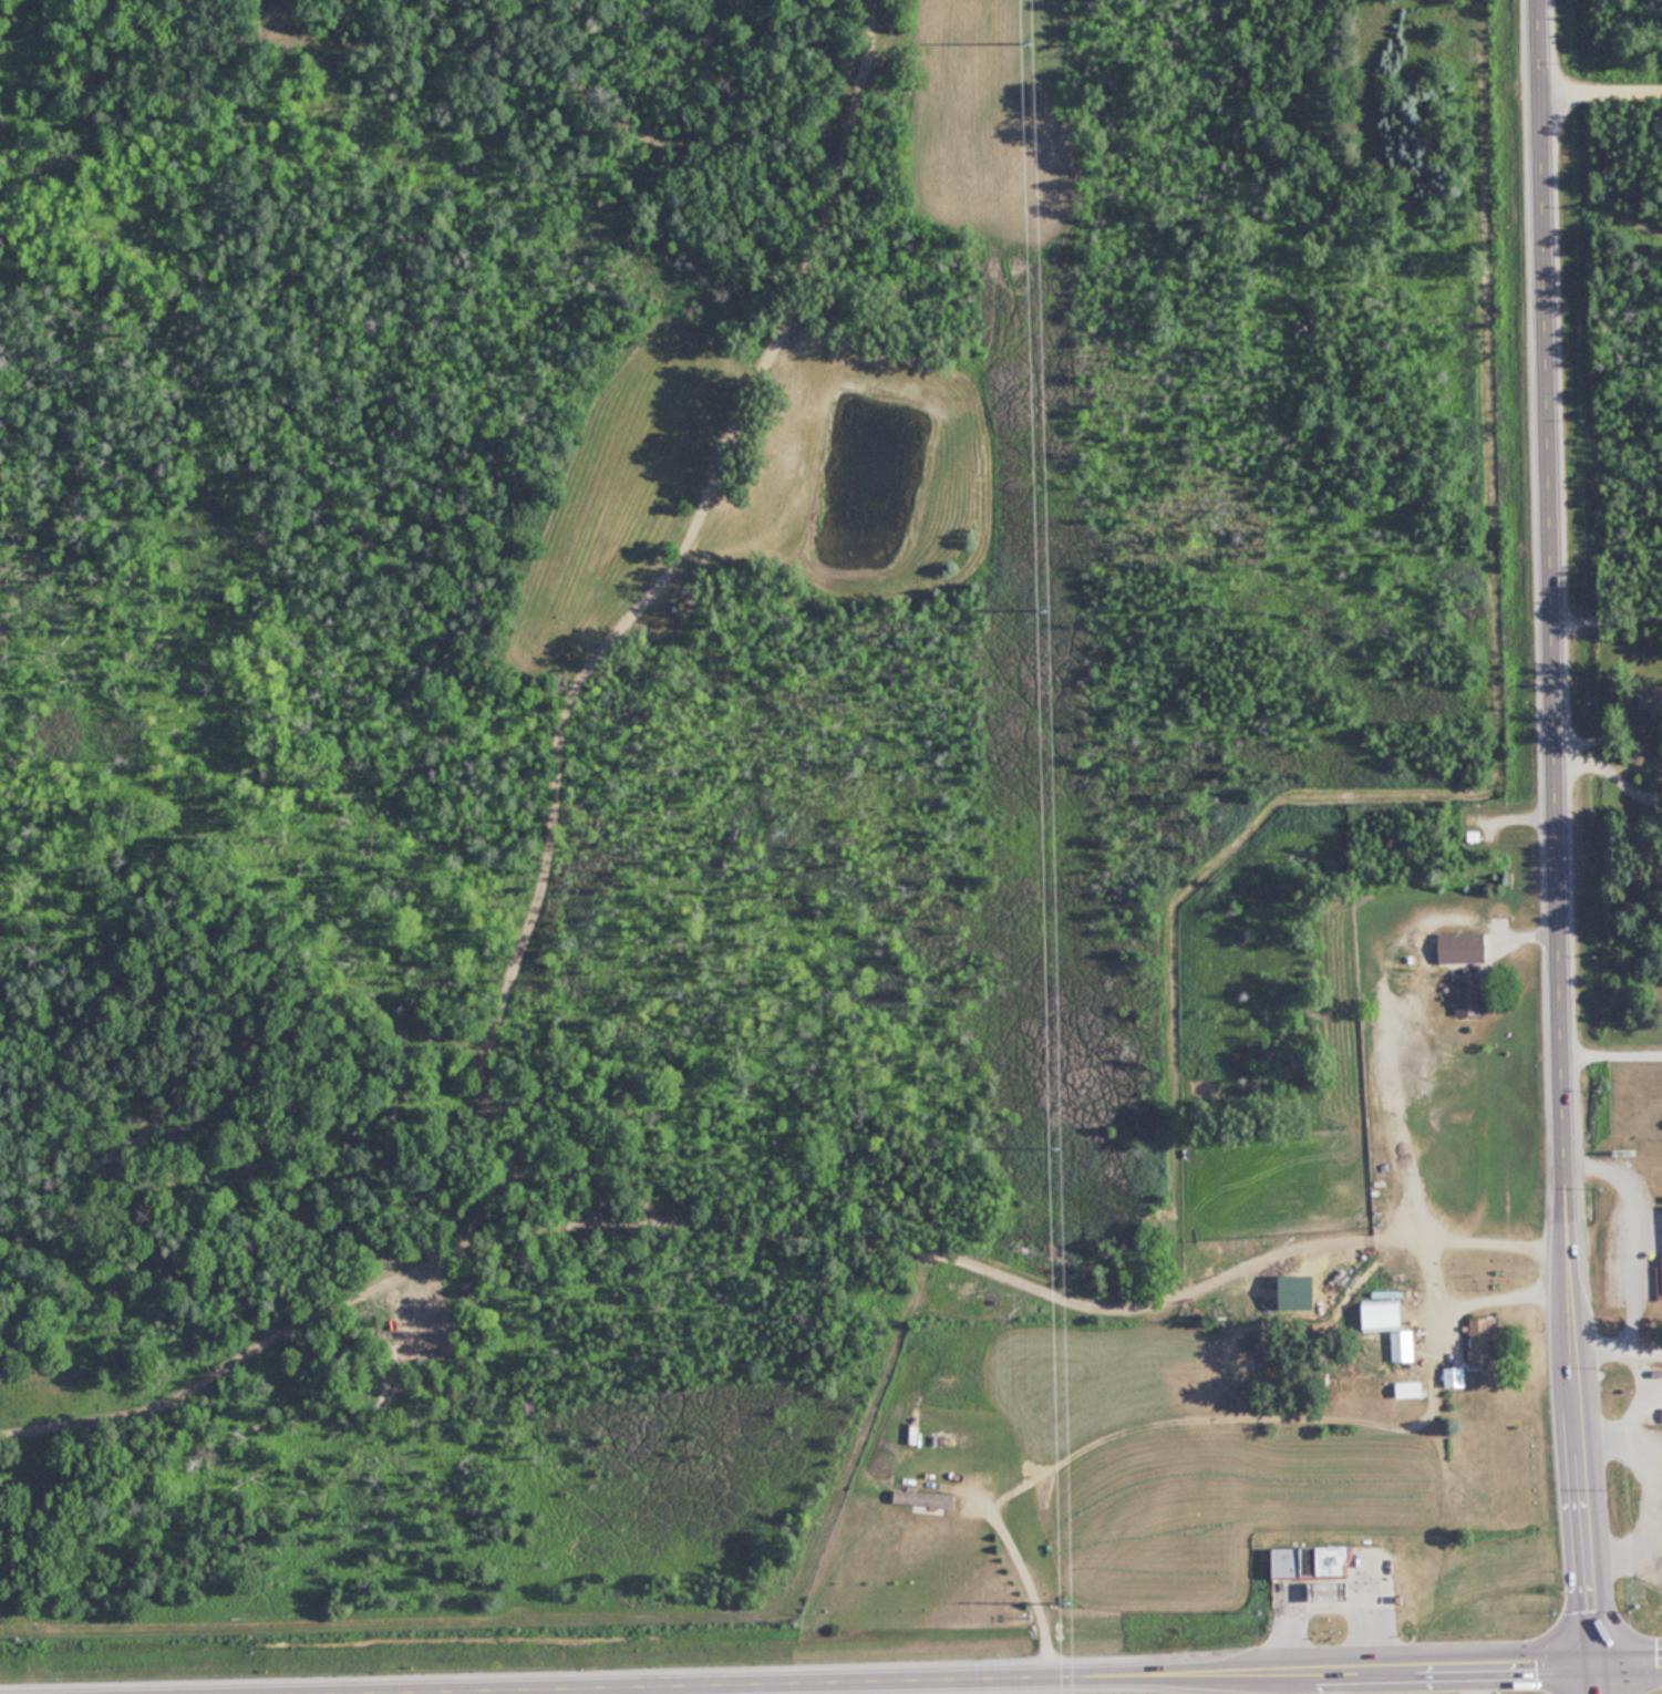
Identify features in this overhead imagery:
power tower: (1029, 41)
road: (1601, 91)
power tower: (1042, 609)
road: (1608, 614)
building: (1652, 701)
road: (1611, 772)
road: (1558, 847)
building: (1463, 947)
building: (1469, 994)
road: (1612, 1050)
power tower: (1054, 1147)
road: (1629, 1232)
building: (1385, 1315)
building: (1485, 1337)
building: (1404, 1345)
road: (1619, 1352)
road: (1643, 1371)
building: (1457, 1376)
building: (1413, 1388)
building: (927, 1501)
building: (1312, 1560)
road: (1031, 1579)
building: (1333, 1590)
power tower: (1064, 1603)
road: (1630, 1660)
traffic signals: (1598, 1661)
road: (916, 1680)
road: (763, 1688)
road: (659, 1690)
road: (580, 1691)
road: (370, 1692)

